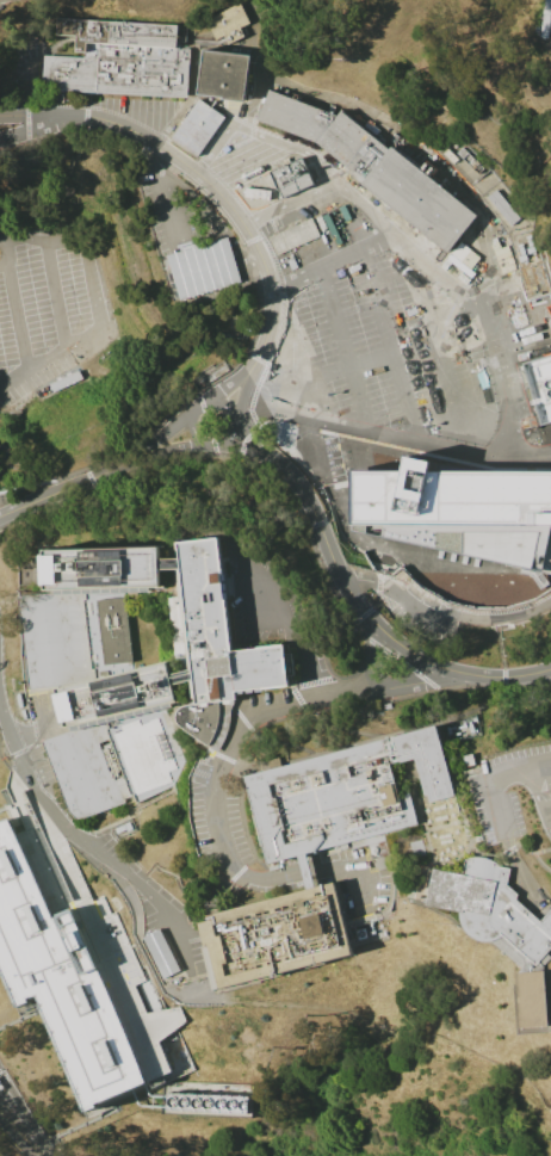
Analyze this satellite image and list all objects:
building: (546, 19)
building: (227, 21)
building: (119, 60)
building: (222, 74)
road: (80, 122)
building: (197, 128)
road: (33, 129)
road: (308, 153)
building: (371, 167)
road: (204, 175)
building: (291, 178)
building: (485, 185)
road: (161, 188)
road: (365, 208)
road: (45, 228)
road: (1, 236)
building: (295, 236)
road: (4, 264)
building: (204, 268)
parking lot: (44, 298)
parking lot: (355, 308)
road: (328, 310)
road: (17, 323)
building: (105, 338)
road: (68, 340)
building: (72, 360)
road: (361, 360)
road: (285, 364)
road: (13, 375)
road: (229, 385)
building: (539, 385)
building: (395, 391)
road: (241, 394)
road: (169, 429)
road: (252, 439)
road: (197, 443)
road: (174, 446)
road: (242, 451)
road: (75, 484)
building: (457, 509)
road: (323, 537)
building: (168, 563)
building: (100, 568)
road: (392, 588)
parking lot: (410, 599)
parking lot: (270, 605)
road: (293, 622)
building: (75, 636)
building: (216, 648)
road: (374, 660)
road: (456, 672)
building: (180, 676)
building: (113, 696)
road: (280, 706)
building: (113, 760)
building: (466, 760)
road: (533, 790)
building: (341, 793)
parking lot: (496, 810)
road: (546, 811)
parking lot: (200, 814)
road: (499, 816)
road: (546, 822)
parking lot: (239, 823)
road: (88, 846)
road: (215, 871)
building: (304, 871)
road: (307, 872)
road: (68, 873)
parking lot: (173, 926)
building: (499, 927)
building: (273, 935)
building: (162, 953)
building: (82, 990)
building: (0, 1087)
building: (188, 1098)
road: (19, 1106)
road: (24, 1129)
road: (18, 1139)

